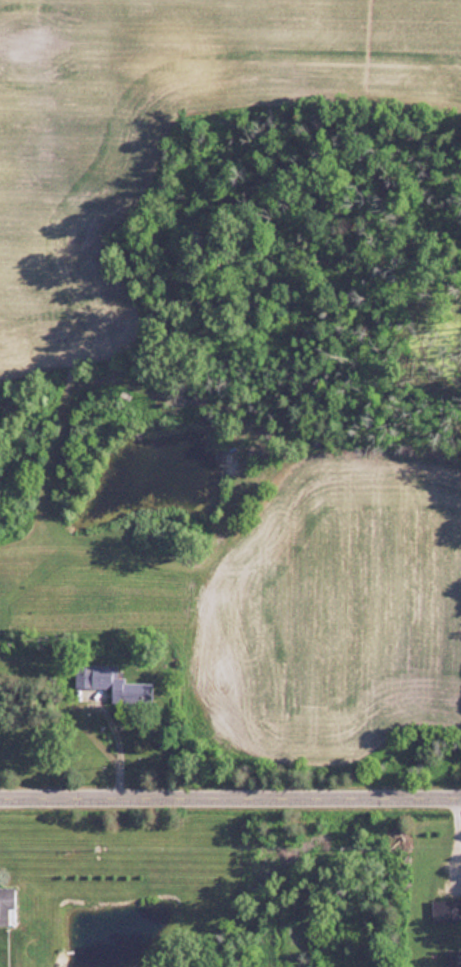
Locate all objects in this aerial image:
building: (110, 682)
road: (230, 793)
building: (5, 905)
building: (445, 910)
building: (452, 958)

